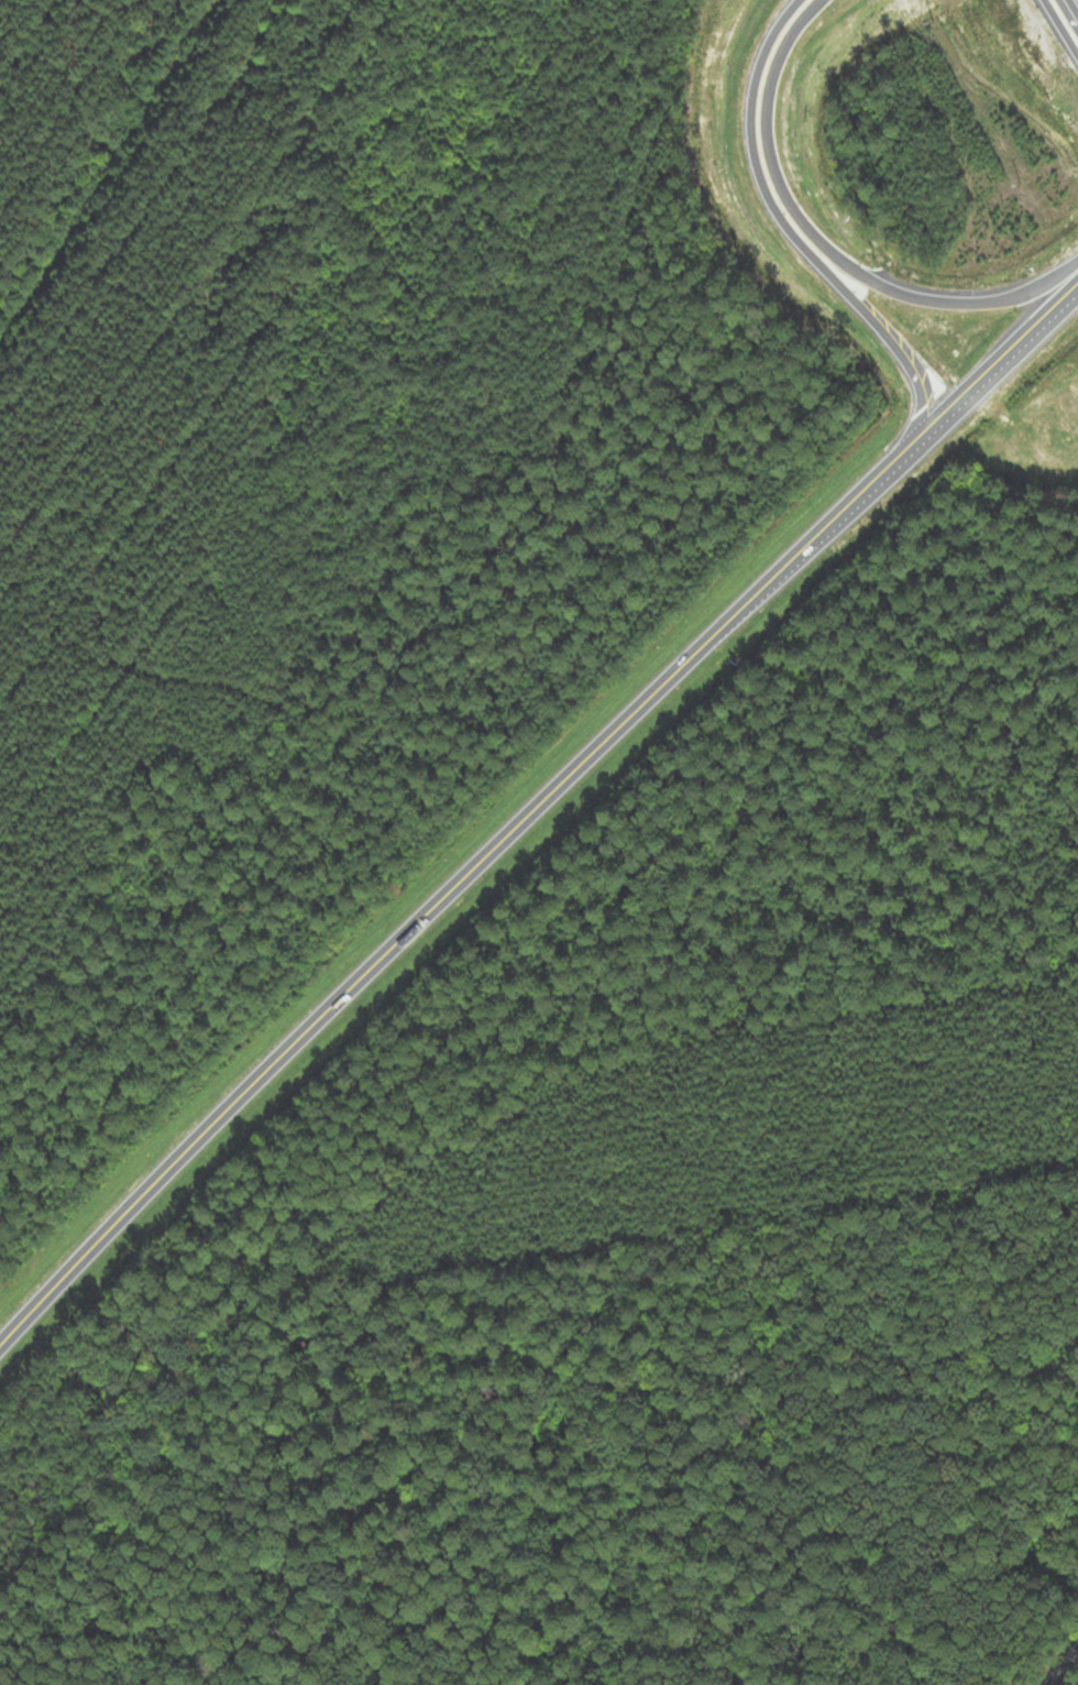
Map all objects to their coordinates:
road: (1066, 19)
road: (117, 184)
road: (793, 236)
road: (825, 242)
road: (532, 806)
road: (1067, 1672)

